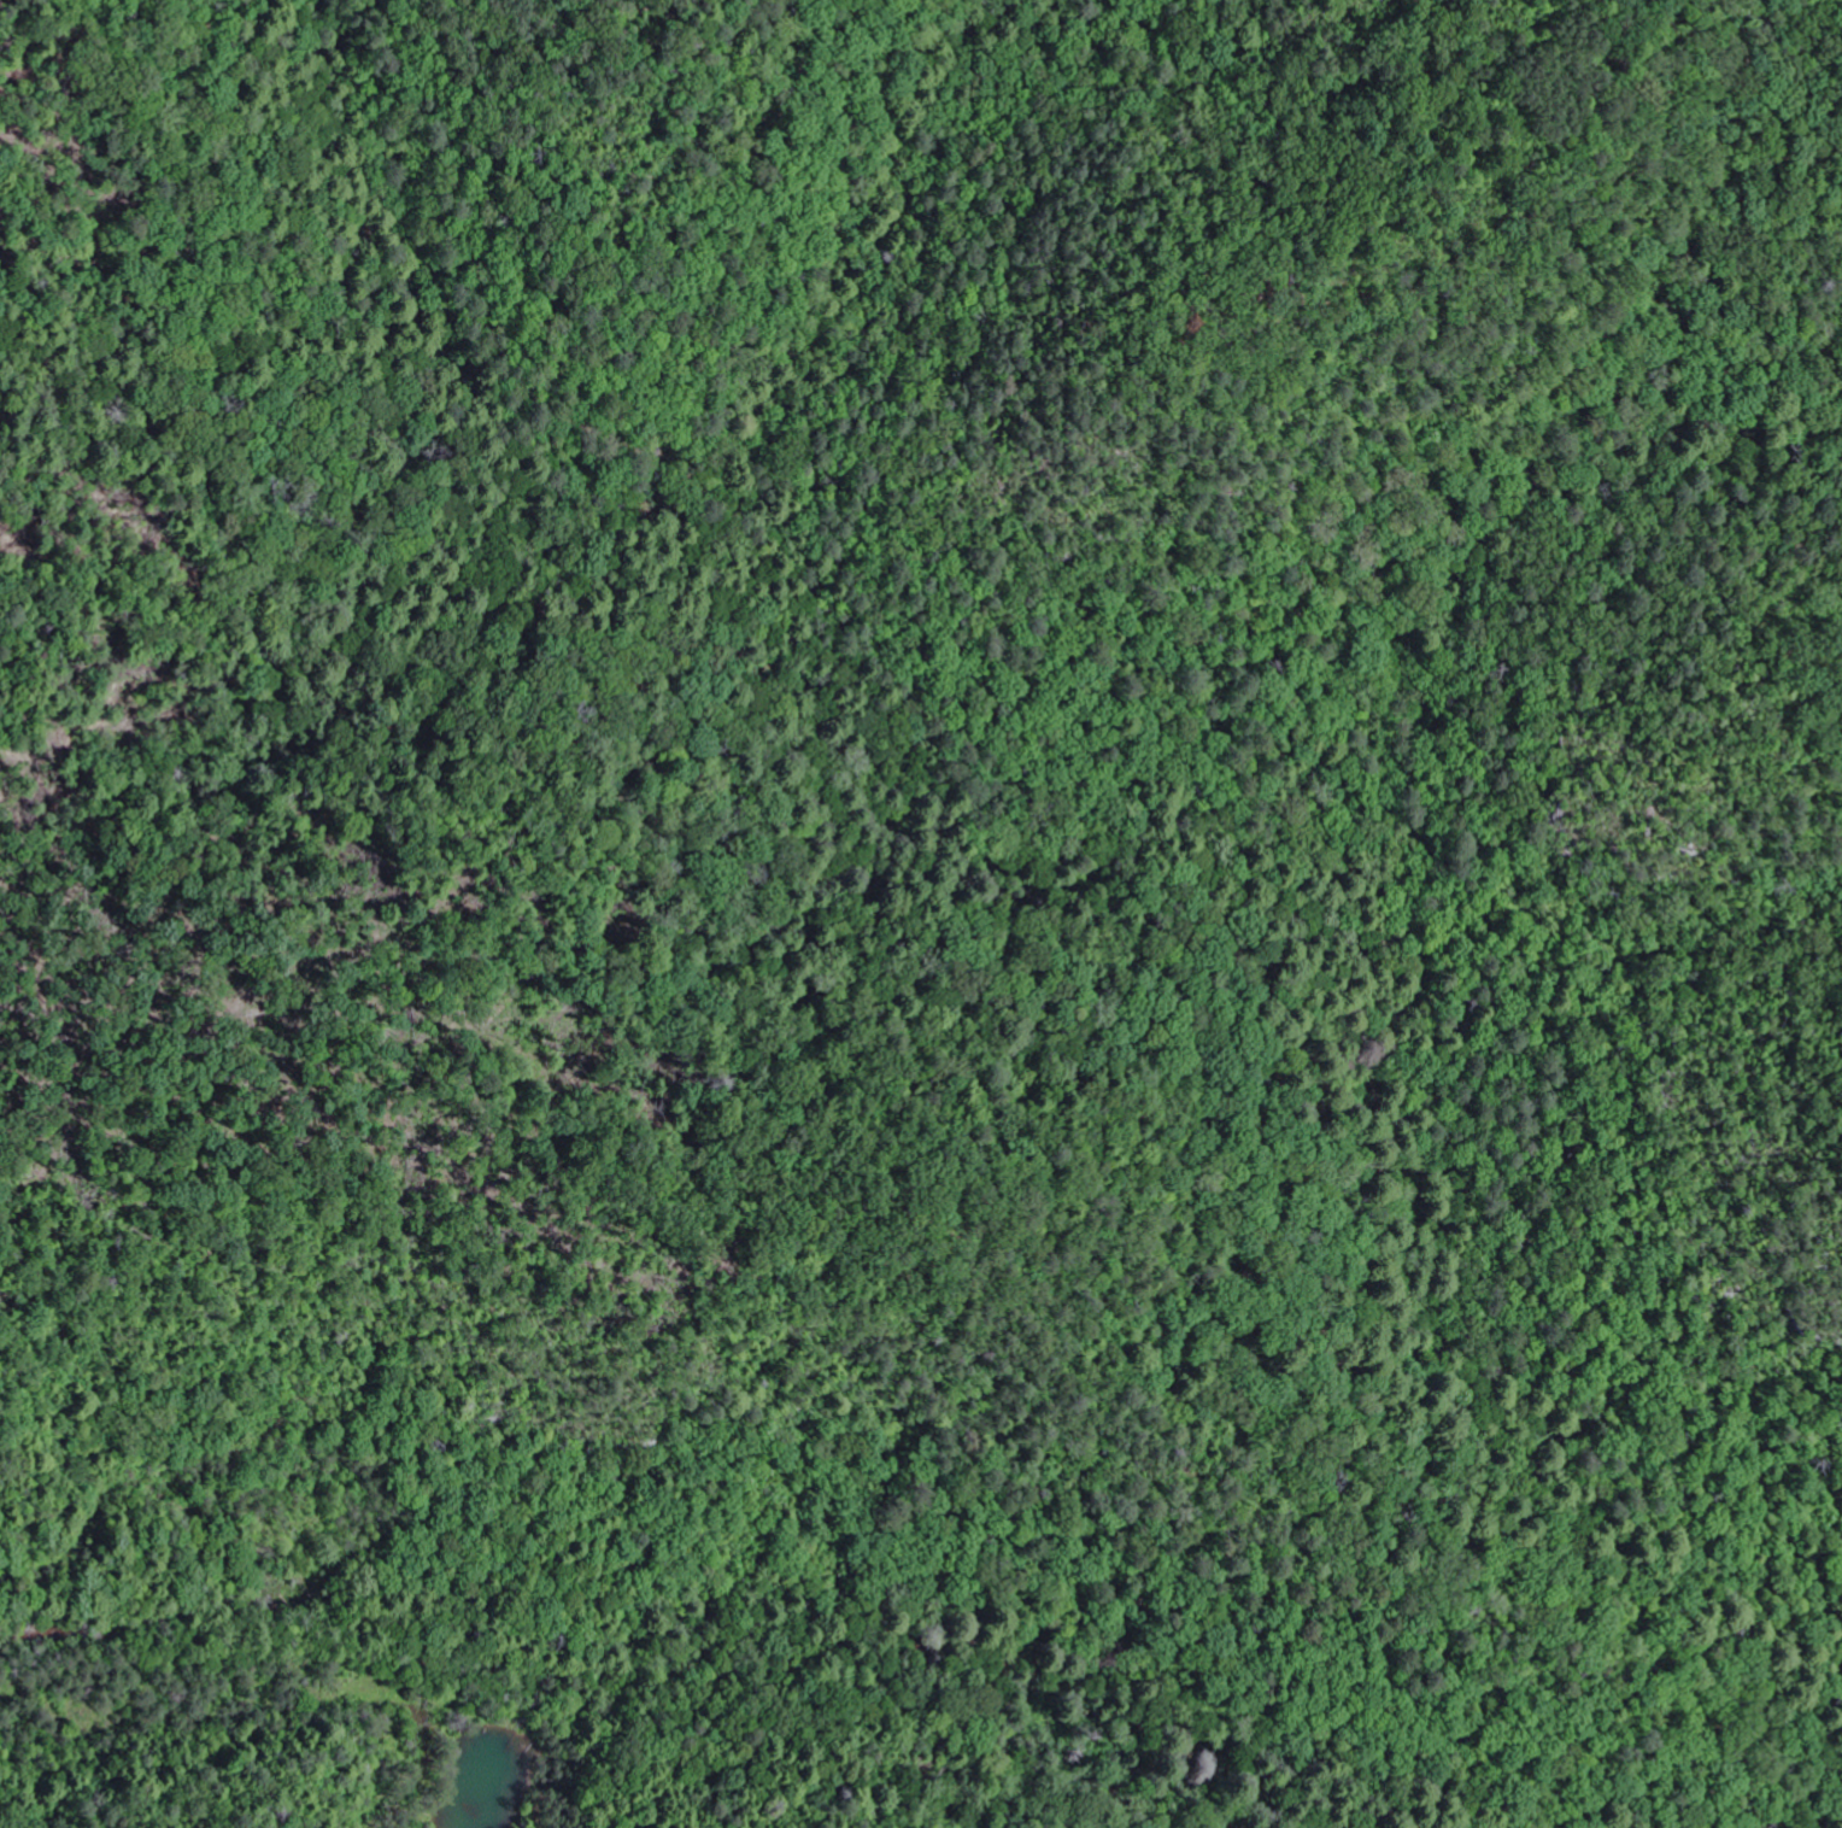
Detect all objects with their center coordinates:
road: (319, 1710)

